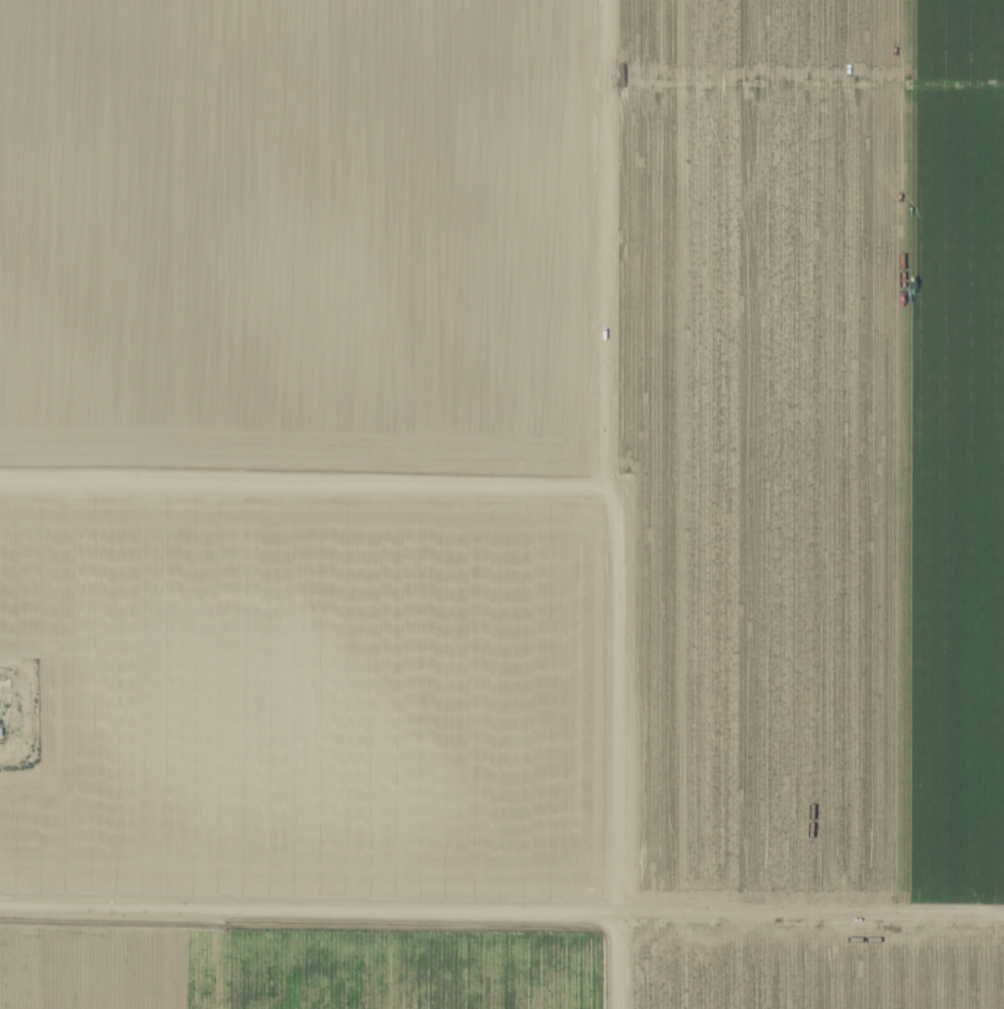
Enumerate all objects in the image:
crop: (502, 504)
road: (17, 903)
road: (264, 909)
road: (748, 914)

